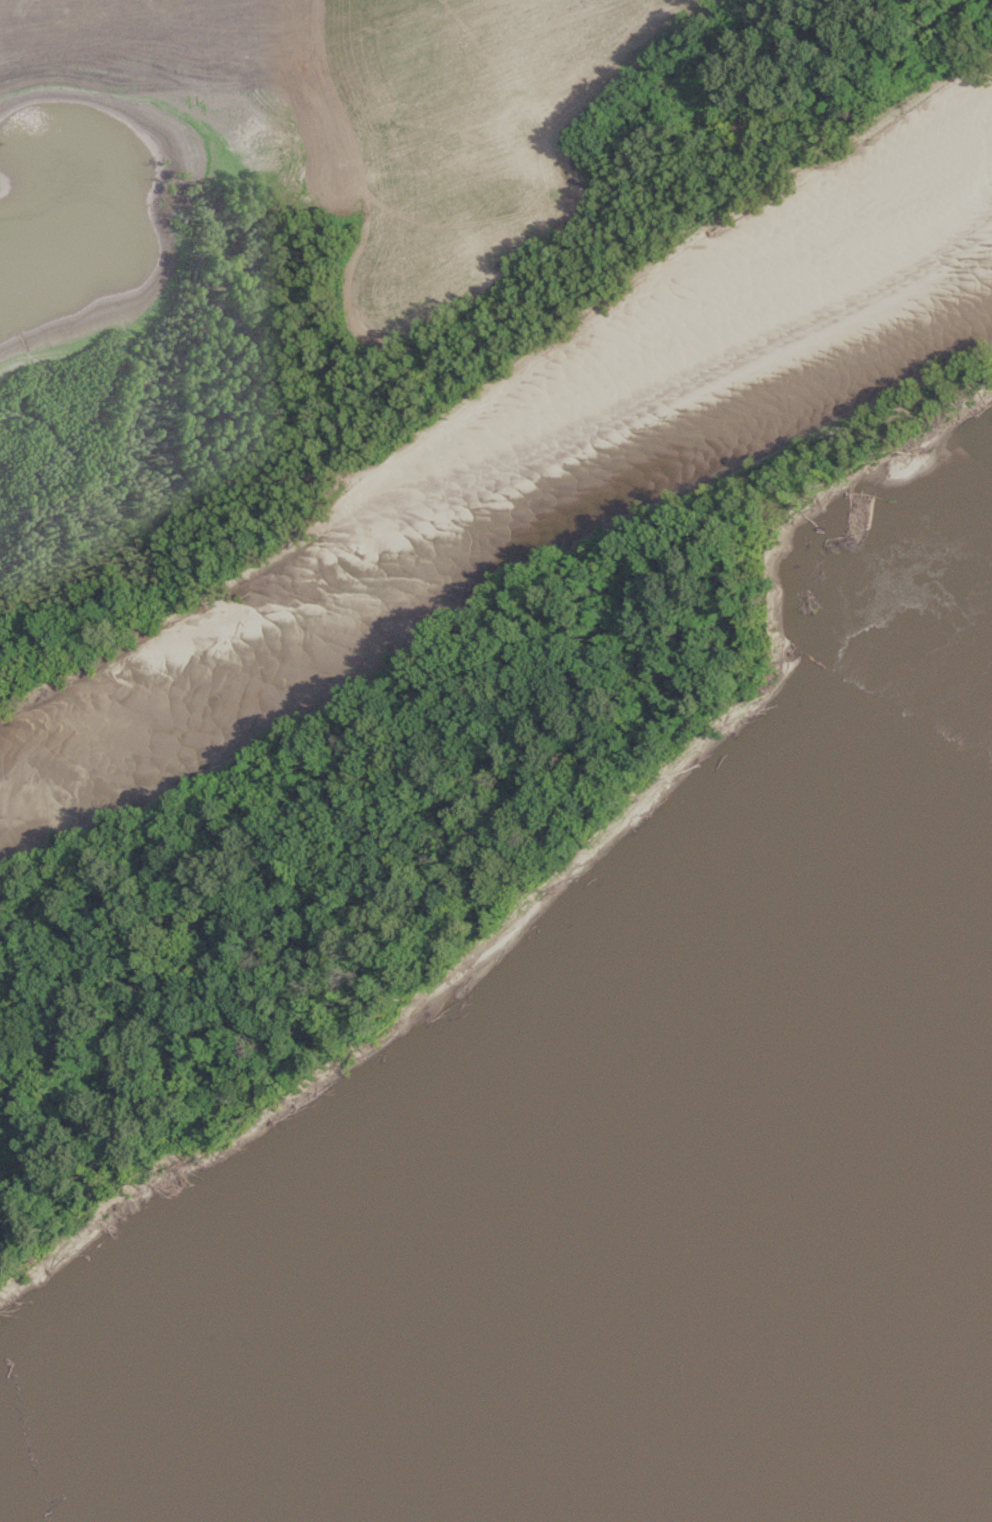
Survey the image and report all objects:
river: (915, 1447)

